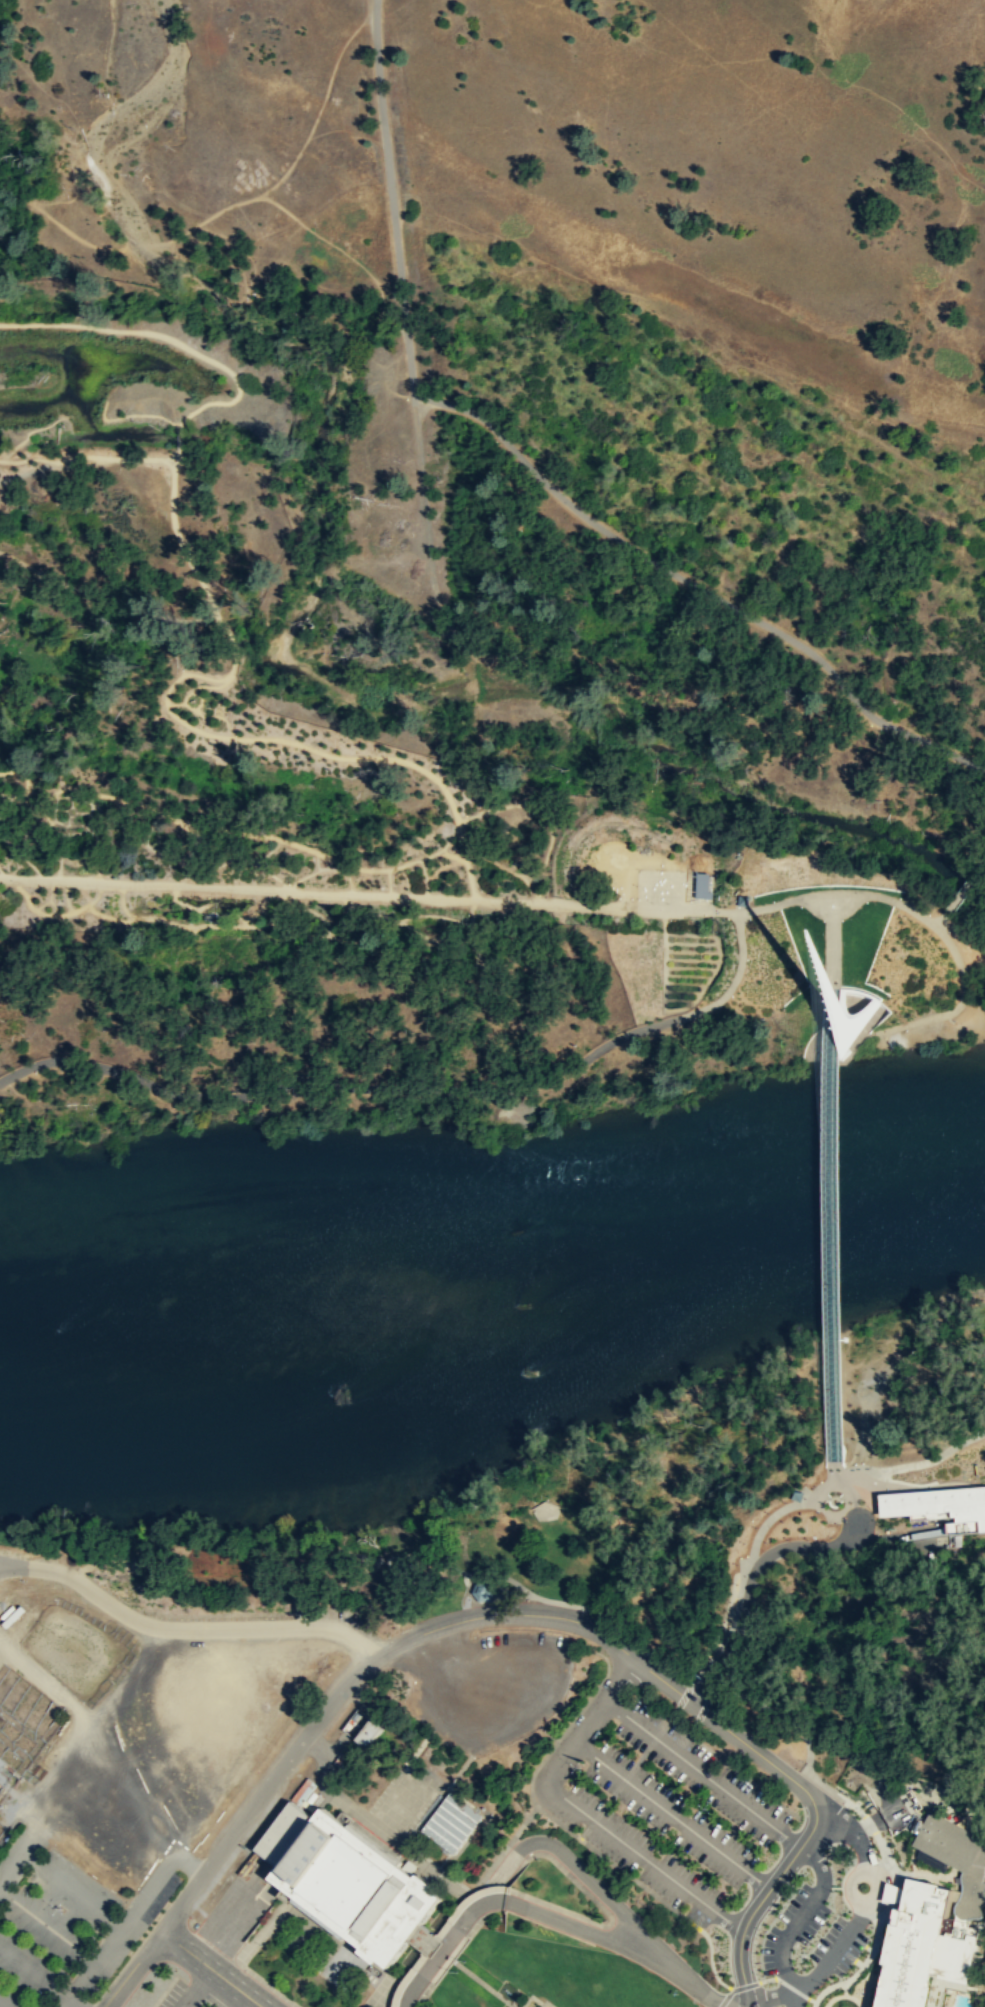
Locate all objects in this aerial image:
road: (372, 3)
road: (333, 71)
road: (310, 141)
road: (222, 211)
road: (167, 336)
road: (147, 414)
road: (27, 433)
road: (178, 437)
road: (86, 456)
road: (45, 466)
road: (536, 474)
park: (492, 540)
road: (107, 594)
road: (231, 639)
road: (182, 702)
road: (196, 704)
road: (189, 705)
road: (361, 757)
road: (23, 773)
road: (62, 796)
road: (2, 797)
road: (81, 799)
road: (59, 808)
road: (65, 809)
road: (538, 809)
road: (53, 811)
road: (82, 811)
road: (100, 815)
road: (89, 818)
road: (14, 820)
road: (48, 820)
road: (77, 824)
road: (188, 827)
road: (64, 828)
road: (27, 829)
road: (76, 832)
road: (234, 841)
road: (95, 842)
road: (148, 847)
road: (188, 850)
road: (268, 851)
road: (429, 855)
road: (452, 855)
road: (21, 856)
road: (234, 856)
road: (465, 861)
road: (494, 861)
street lamp: (639, 868)
street lamp: (660, 869)
street lamp: (680, 870)
road: (341, 872)
road: (348, 872)
road: (0, 873)
road: (309, 874)
road: (424, 877)
road: (388, 882)
street lamp: (635, 884)
building: (700, 886)
road: (965, 886)
road: (529, 888)
road: (811, 890)
road: (84, 891)
road: (317, 893)
road: (65, 895)
road: (48, 898)
building: (741, 900)
street lamp: (651, 901)
street lamp: (667, 902)
road: (184, 903)
road: (55, 905)
road: (258, 908)
road: (685, 910)
road: (268, 913)
road: (55, 915)
fountain: (213, 918)
road: (401, 918)
road: (939, 921)
road: (244, 925)
road: (471, 928)
road: (687, 933)
road: (830, 940)
road: (716, 964)
road: (664, 969)
road: (684, 983)
road: (823, 986)
road: (954, 1007)
road: (972, 1008)
building: (843, 1023)
road: (511, 1087)
road: (831, 1224)
river: (494, 1275)
road: (892, 1350)
road: (866, 1375)
road: (861, 1390)
road: (869, 1397)
road: (867, 1447)
road: (857, 1450)
road: (913, 1464)
road: (833, 1474)
road: (823, 1491)
road: (833, 1491)
building: (796, 1494)
road: (825, 1496)
road: (841, 1496)
road: (837, 1498)
street lamp: (785, 1501)
building: (940, 1506)
street lamp: (768, 1512)
park: (547, 1520)
street lamp: (755, 1527)
park: (825, 1532)
street lamp: (830, 1536)
street lamp: (786, 1538)
street lamp: (806, 1539)
street lamp: (744, 1542)
road: (9, 1562)
road: (453, 1568)
road: (739, 1577)
road: (288, 1580)
parking lot: (325, 1582)
street lamp: (736, 1583)
road: (751, 1583)
building: (482, 1590)
road: (734, 1592)
street lamp: (733, 1602)
road: (391, 1610)
road: (731, 1612)
road: (602, 1615)
street lamp: (727, 1622)
road: (184, 1627)
road: (720, 1629)
road: (723, 1633)
road: (351, 1678)
parking lot: (487, 1684)
stadium: (51, 1685)
road: (713, 1694)
road: (682, 1696)
road: (525, 1708)
road: (702, 1709)
road: (672, 1714)
road: (663, 1715)
road: (791, 1723)
road: (691, 1726)
building: (366, 1728)
road: (725, 1728)
street lamp: (801, 1759)
road: (702, 1773)
road: (741, 1774)
road: (330, 1793)
parking lot: (655, 1802)
parking lot: (392, 1805)
road: (977, 1808)
road: (581, 1811)
road: (671, 1815)
road: (966, 1822)
road: (977, 1822)
building: (451, 1823)
street lamp: (870, 1836)
road: (861, 1847)
building: (955, 1856)
road: (818, 1863)
road: (579, 1872)
road: (58, 1875)
road: (161, 1877)
building: (346, 1882)
street lamp: (832, 1890)
road: (762, 1897)
street lamp: (789, 1897)
road: (888, 1906)
road: (802, 1913)
street lamp: (822, 1922)
parking lot: (71, 1923)
road: (49, 1928)
street lamp: (764, 1930)
road: (449, 1940)
street lamp: (868, 1940)
building: (918, 1944)
road: (631, 1946)
road: (781, 1953)
road: (828, 1960)
road: (96, 1965)
road: (131, 1968)
road: (211, 1968)
street lamp: (762, 1974)
road: (35, 1976)
road: (766, 1978)
road: (785, 1980)
road: (479, 1981)
street lamp: (823, 1982)
road: (790, 1987)
road: (197, 1988)
fountain: (507, 1991)
parking lot: (190, 1995)
road: (531, 1996)
road: (767, 1997)
road: (790, 1999)
road: (811, 1999)
road: (246, 2002)
road: (545, 2002)
road: (814, 2003)
road: (2, 2005)
road: (747, 2005)
park: (984, 2006)

